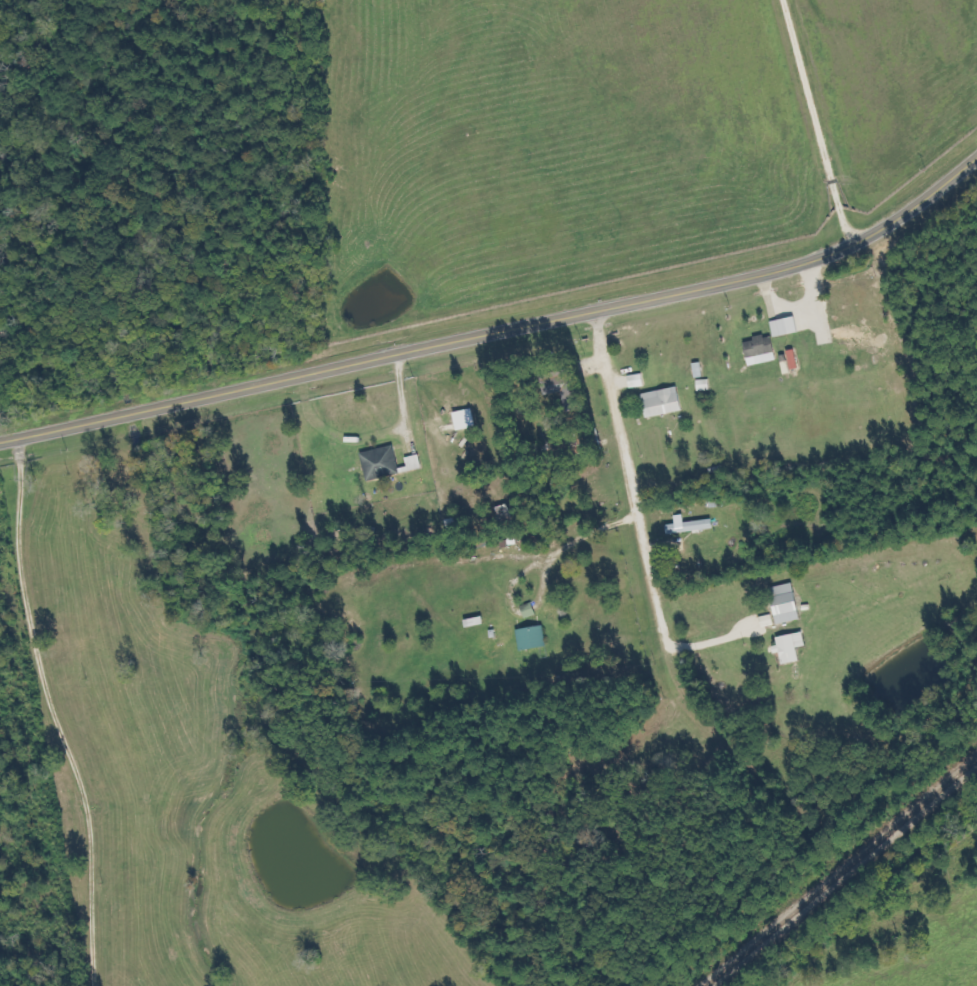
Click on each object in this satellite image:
road: (501, 333)
building: (852, 335)
building: (757, 345)
building: (561, 386)
building: (660, 401)
building: (582, 442)
building: (376, 462)
building: (410, 462)
road: (630, 481)
building: (685, 526)
building: (754, 580)
building: (782, 603)
building: (528, 637)
road: (713, 640)
building: (785, 648)
railway: (837, 870)

